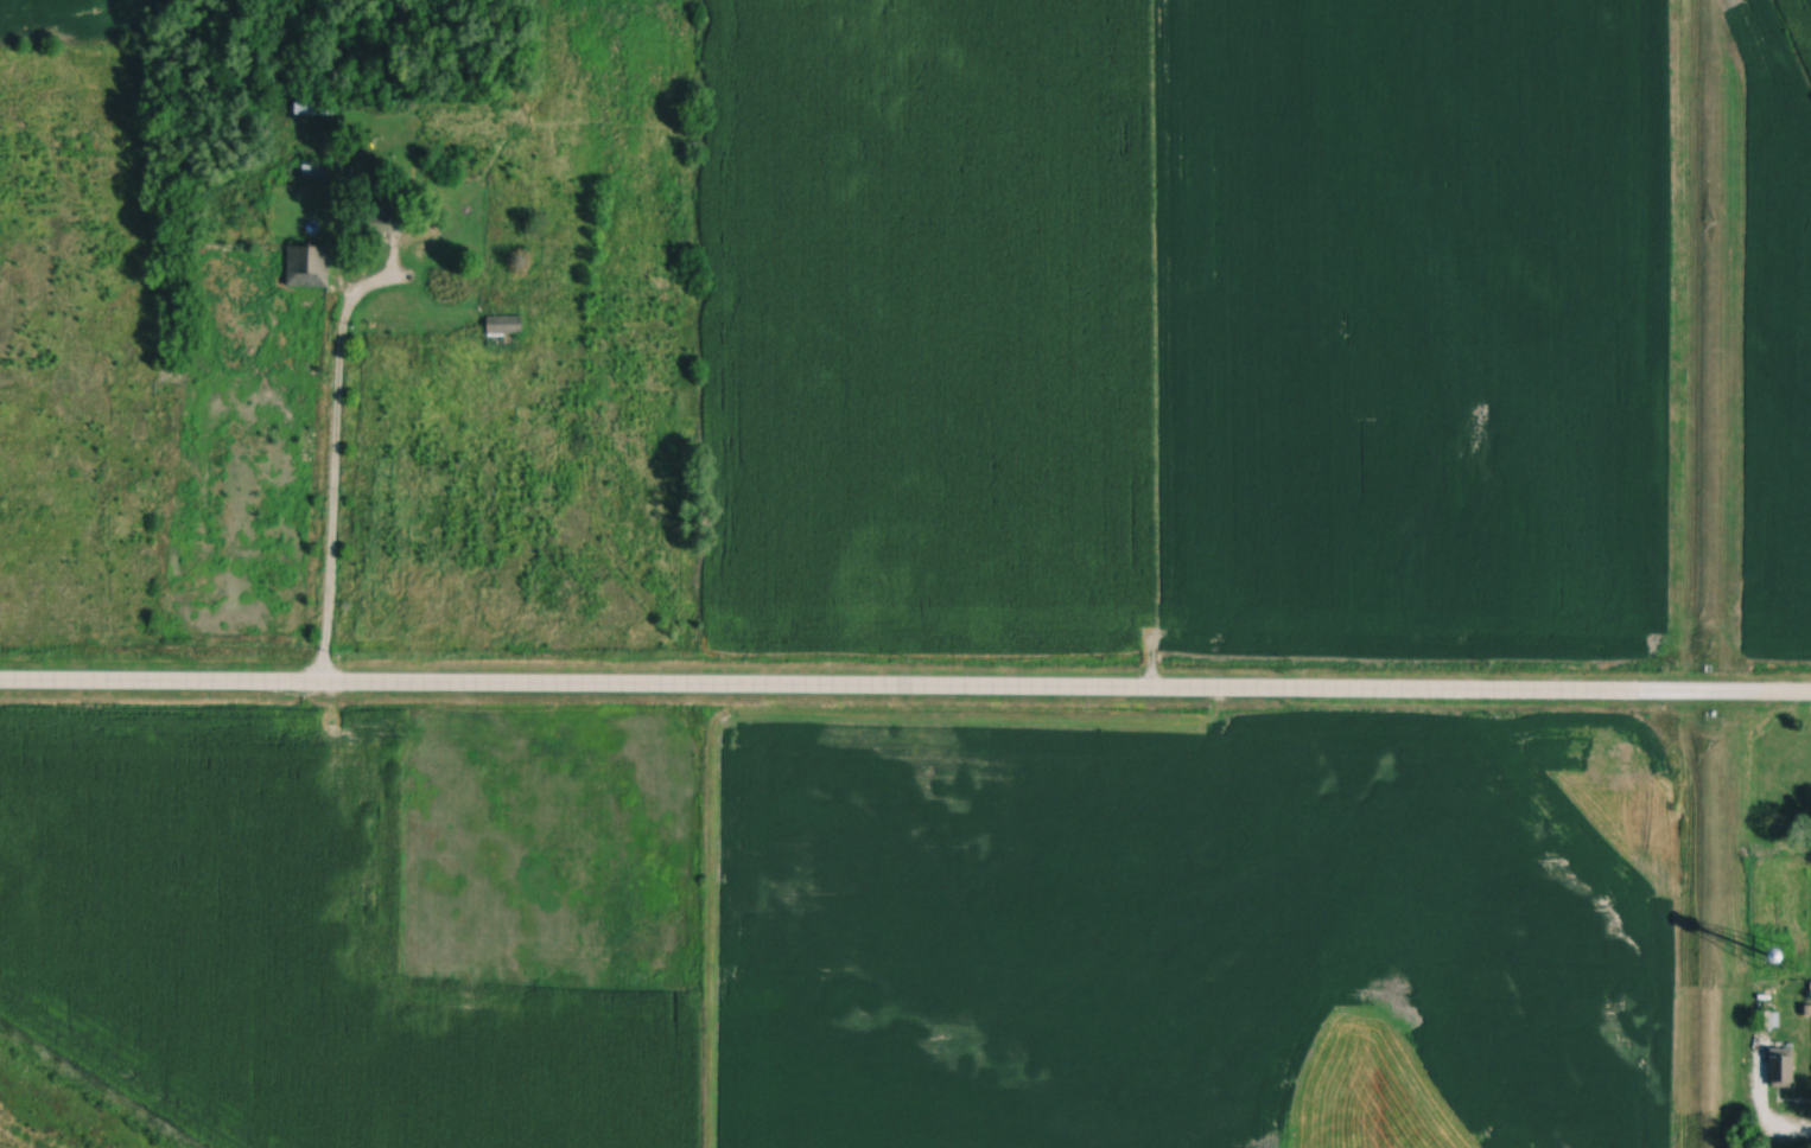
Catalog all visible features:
building: (389, 225)
building: (310, 266)
building: (507, 324)
road: (331, 489)
road: (905, 689)
building: (1784, 1076)
road: (1775, 1133)

